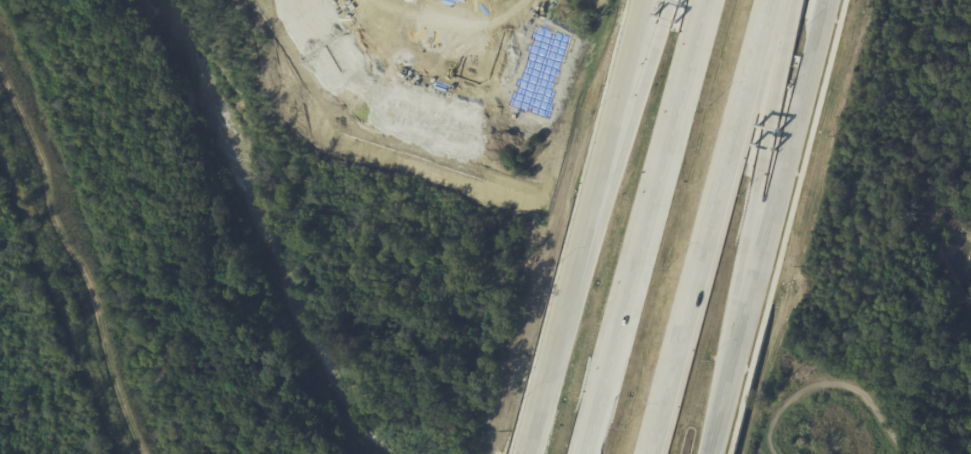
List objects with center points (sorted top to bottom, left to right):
building: (449, 31)
building: (319, 36)
building: (541, 70)
road: (446, 78)
building: (428, 120)
road: (602, 154)
road: (621, 156)
road: (754, 195)
road: (770, 226)
road: (645, 227)
road: (707, 227)
road: (782, 227)
building: (477, 230)
road: (74, 263)
road: (57, 307)
road: (553, 346)
road: (833, 378)
park: (835, 412)
road: (533, 418)

